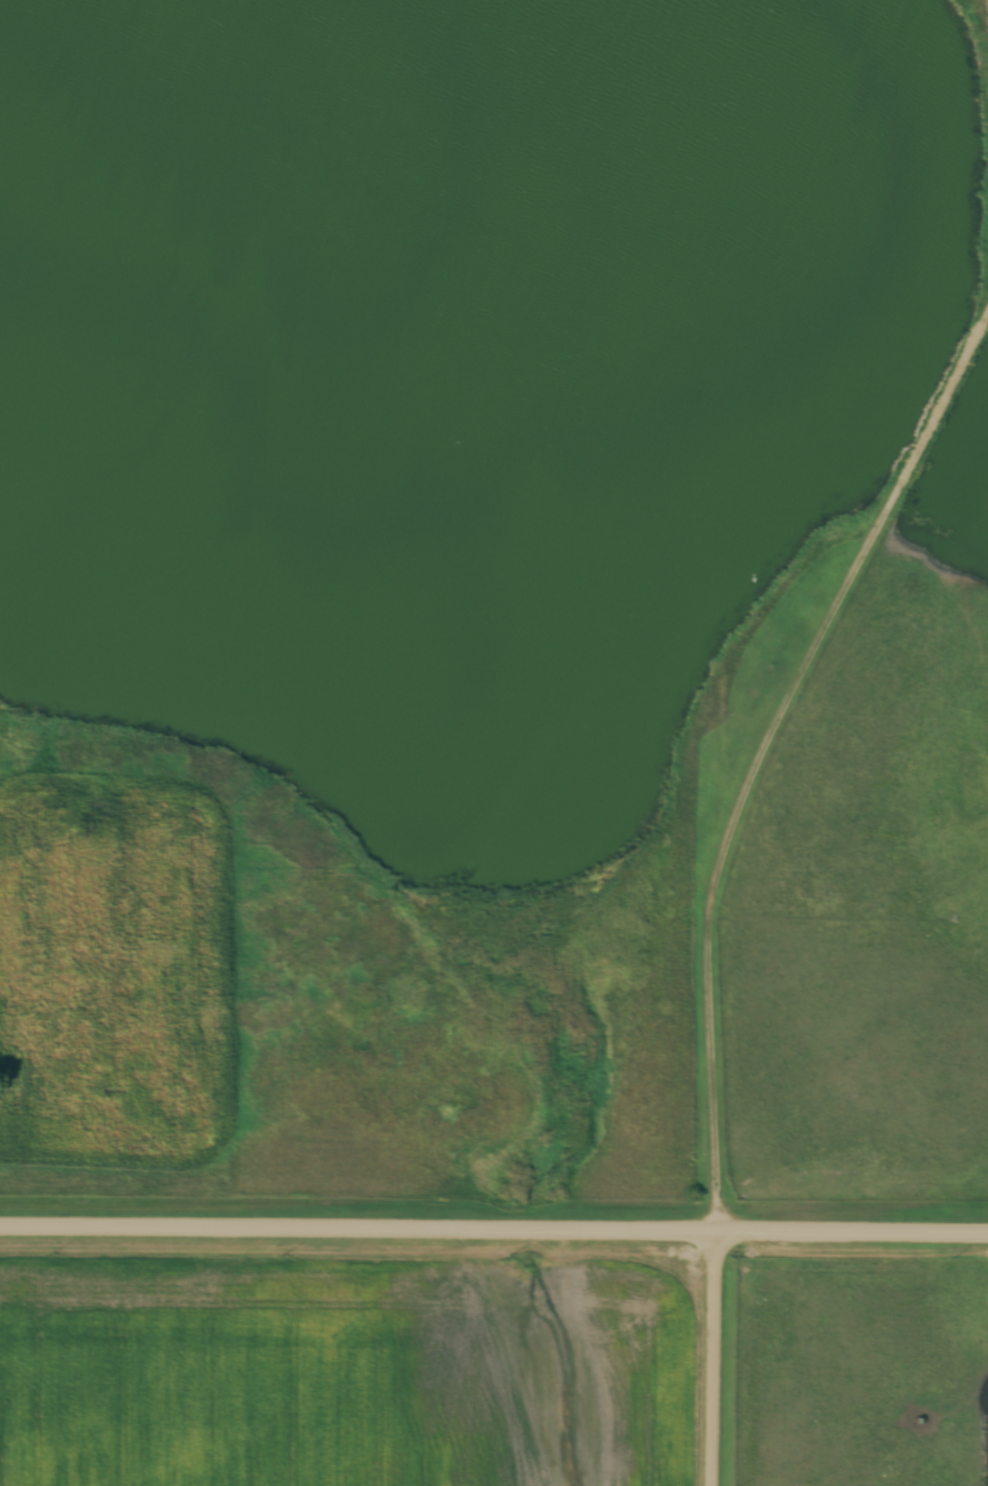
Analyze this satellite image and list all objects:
road: (494, 1227)
road: (713, 1357)

